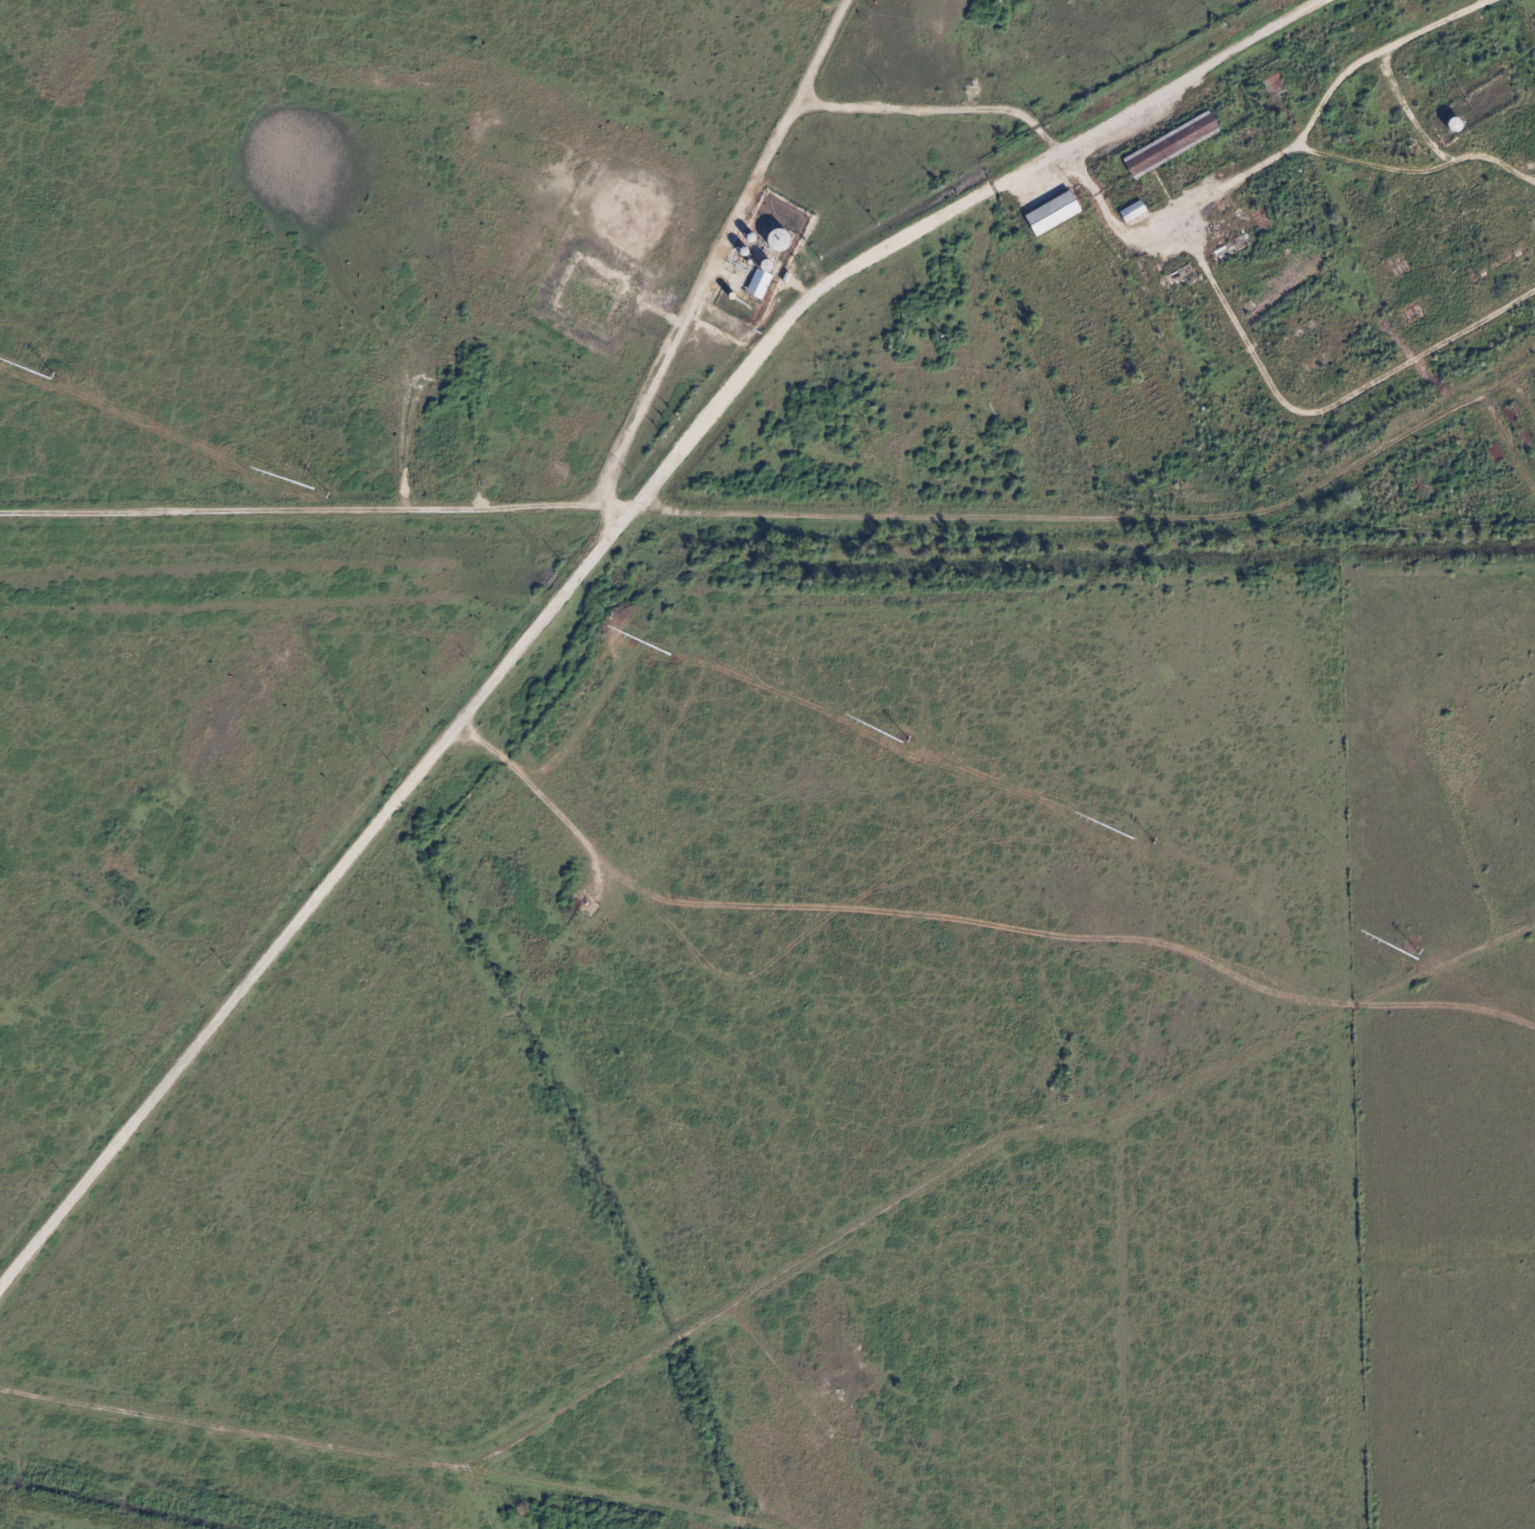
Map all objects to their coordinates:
road: (937, 111)
building: (1051, 213)
road: (723, 253)
building: (761, 278)
road: (976, 370)
road: (1525, 397)
road: (1508, 441)
road: (786, 511)
road: (590, 562)
road: (560, 812)
road: (1464, 835)
road: (157, 949)
road: (981, 1148)
road: (775, 1357)
road: (391, 1454)
road: (478, 1496)

